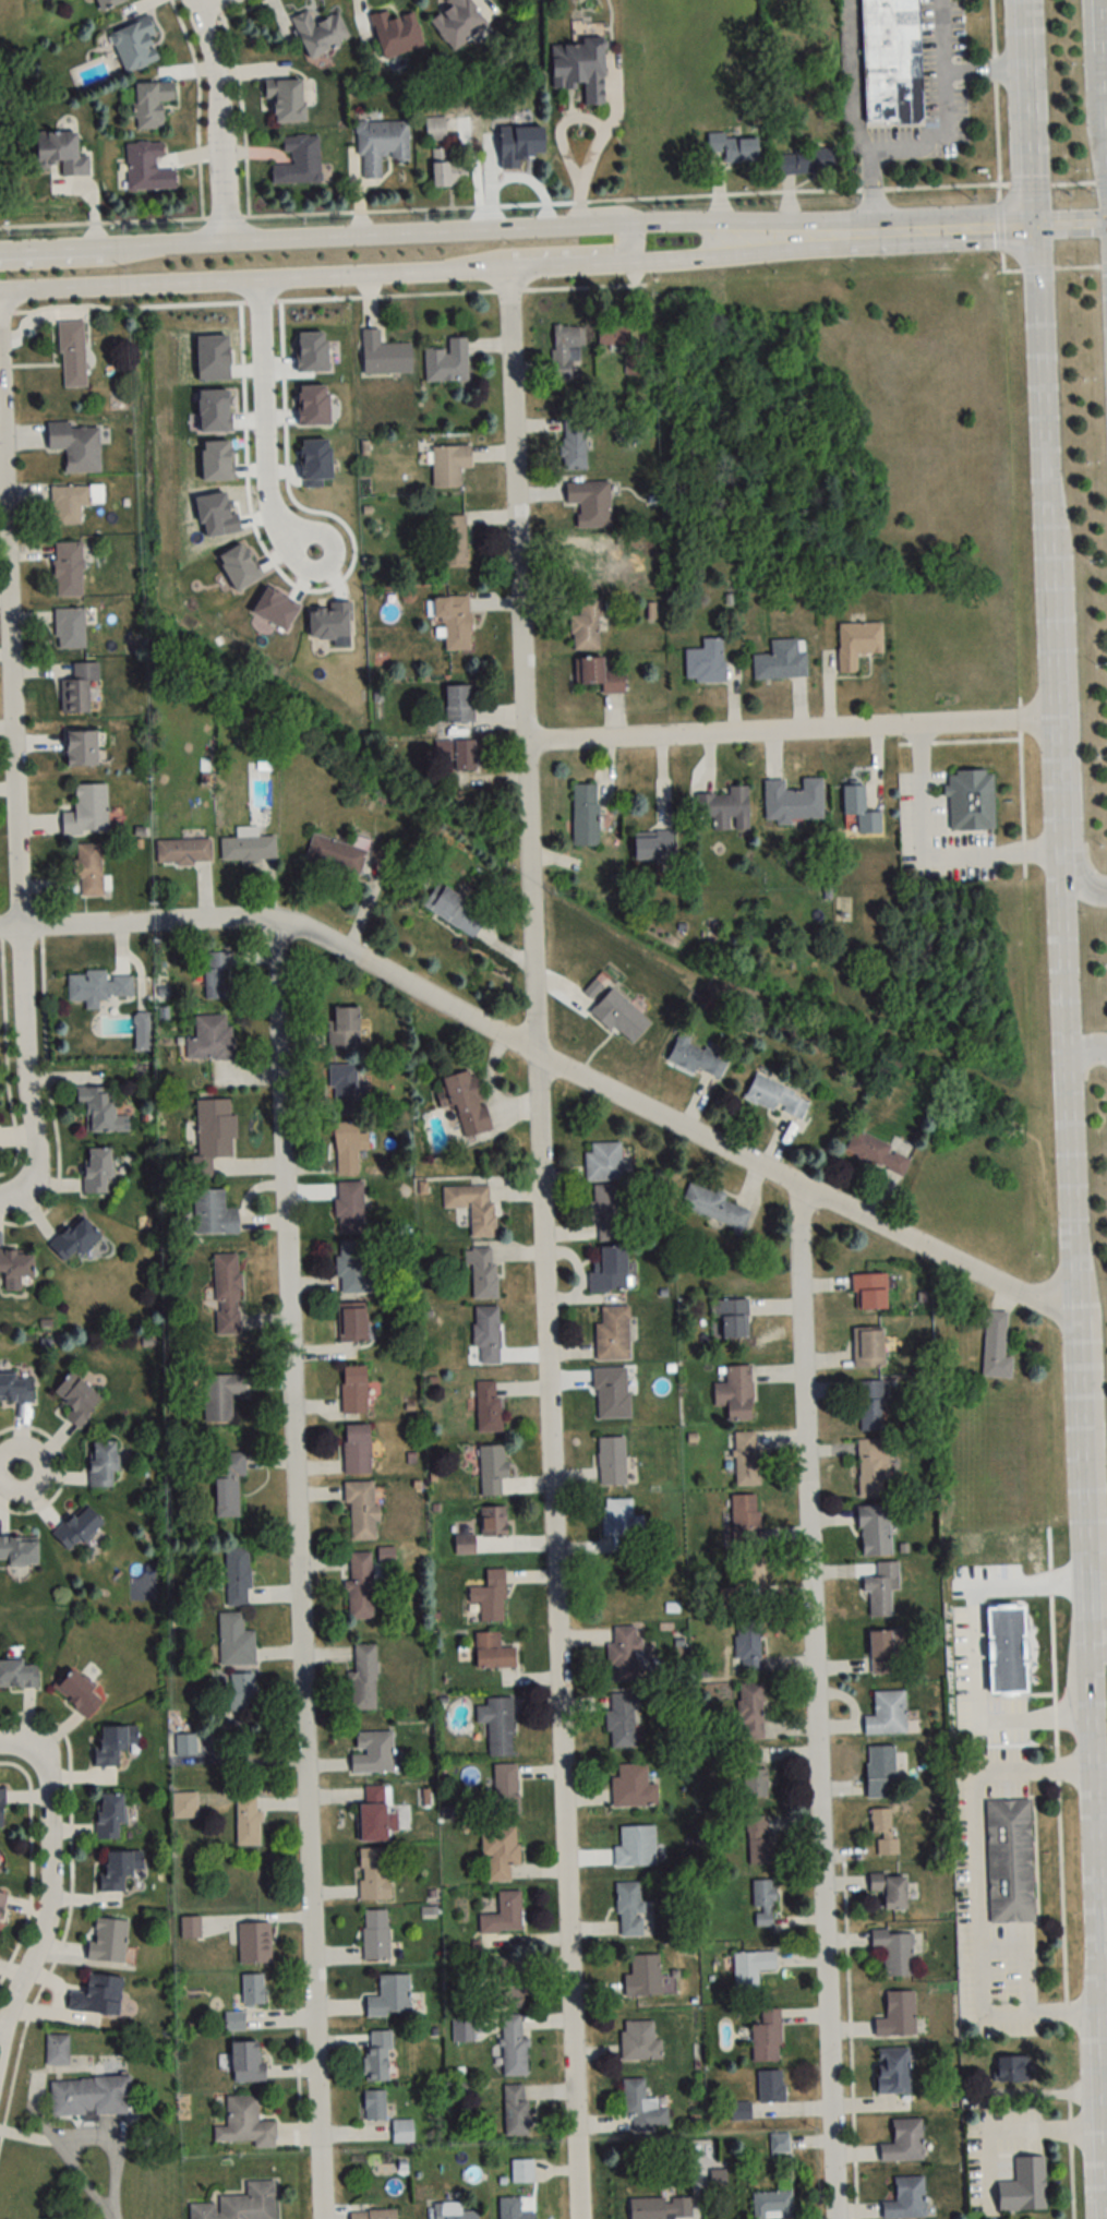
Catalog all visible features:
building: (106, 3)
road: (214, 7)
building: (457, 22)
building: (318, 33)
building: (396, 33)
road: (1105, 38)
building: (134, 45)
building: (580, 68)
road: (987, 68)
road: (853, 75)
road: (1087, 80)
building: (285, 99)
building: (902, 103)
building: (151, 104)
road: (946, 105)
road: (1031, 113)
road: (217, 118)
building: (435, 129)
road: (600, 129)
building: (381, 145)
building: (733, 147)
building: (60, 152)
building: (298, 160)
building: (804, 160)
building: (146, 167)
building: (446, 169)
road: (871, 191)
road: (592, 203)
road: (1071, 227)
traffic signals: (1036, 228)
road: (941, 230)
road: (737, 232)
road: (313, 235)
road: (571, 253)
road: (56, 259)
road: (678, 259)
road: (254, 279)
building: (612, 335)
building: (565, 352)
building: (71, 353)
building: (383, 355)
building: (446, 361)
road: (1040, 361)
building: (633, 364)
road: (264, 423)
building: (573, 441)
building: (75, 445)
building: (448, 465)
building: (72, 502)
building: (589, 502)
road: (517, 504)
building: (452, 541)
building: (583, 556)
building: (67, 568)
building: (453, 621)
building: (586, 624)
road: (11, 626)
building: (69, 627)
building: (856, 644)
building: (781, 660)
building: (705, 662)
building: (597, 673)
building: (76, 687)
road: (1073, 701)
building: (458, 703)
road: (798, 731)
building: (80, 747)
building: (441, 749)
building: (465, 755)
building: (793, 800)
building: (970, 800)
building: (724, 808)
building: (858, 809)
building: (86, 811)
building: (583, 815)
building: (246, 848)
building: (653, 848)
road: (931, 850)
building: (182, 851)
building: (334, 856)
building: (88, 868)
building: (455, 909)
road: (11, 932)
building: (215, 974)
building: (96, 986)
building: (611, 1009)
building: (344, 1029)
building: (141, 1031)
building: (210, 1037)
road: (1086, 1047)
building: (695, 1057)
road: (557, 1068)
road: (24, 1076)
building: (344, 1089)
building: (775, 1099)
building: (466, 1103)
building: (99, 1111)
building: (212, 1135)
building: (346, 1148)
building: (877, 1153)
building: (605, 1162)
building: (95, 1171)
building: (472, 1206)
building: (712, 1206)
building: (349, 1208)
building: (606, 1210)
building: (213, 1213)
building: (72, 1239)
building: (14, 1268)
building: (352, 1268)
building: (609, 1268)
building: (482, 1271)
road: (1073, 1276)
building: (868, 1292)
building: (226, 1294)
building: (732, 1319)
building: (351, 1322)
building: (485, 1333)
building: (612, 1334)
building: (995, 1346)
building: (867, 1347)
building: (15, 1388)
building: (352, 1390)
building: (611, 1393)
building: (735, 1393)
building: (219, 1396)
building: (76, 1399)
building: (488, 1406)
building: (869, 1406)
building: (356, 1450)
building: (746, 1460)
building: (611, 1461)
building: (101, 1465)
road: (11, 1468)
building: (873, 1468)
building: (492, 1470)
road: (550, 1479)
building: (227, 1483)
building: (360, 1511)
building: (618, 1519)
building: (493, 1523)
building: (76, 1530)
road: (1100, 1531)
building: (874, 1532)
building: (988, 1545)
building: (17, 1551)
building: (742, 1556)
road: (297, 1571)
building: (237, 1576)
building: (359, 1586)
building: (880, 1590)
building: (489, 1598)
building: (234, 1641)
building: (747, 1647)
road: (972, 1650)
building: (882, 1651)
building: (492, 1653)
building: (623, 1655)
building: (17, 1674)
building: (362, 1679)
building: (76, 1694)
building: (239, 1694)
road: (814, 1703)
building: (749, 1712)
building: (886, 1715)
building: (619, 1720)
building: (497, 1725)
building: (112, 1743)
building: (184, 1744)
building: (372, 1753)
building: (879, 1772)
building: (753, 1774)
building: (631, 1787)
building: (504, 1790)
building: (183, 1804)
building: (1, 1808)
building: (372, 1814)
building: (108, 1815)
road: (1100, 1815)
building: (246, 1822)
building: (883, 1832)
building: (757, 1839)
building: (635, 1847)
building: (498, 1852)
building: (1009, 1861)
building: (118, 1868)
building: (373, 1873)
road: (48, 1884)
building: (889, 1888)
road: (976, 1891)
building: (1, 1900)
building: (762, 1903)
building: (628, 1909)
building: (503, 1915)
building: (189, 1927)
building: (375, 1934)
building: (107, 1940)
building: (254, 1942)
building: (894, 1951)
building: (749, 1967)
building: (642, 1976)
building: (252, 1989)
building: (96, 1994)
building: (389, 1995)
building: (507, 1995)
building: (897, 2015)
building: (766, 2037)
building: (639, 2041)
building: (513, 2047)
building: (56, 2050)
building: (376, 2054)
building: (245, 2061)
building: (1011, 2070)
building: (892, 2071)
building: (769, 2086)
building: (88, 2096)
building: (373, 2104)
building: (641, 2108)
building: (515, 2110)
road: (1105, 2114)
building: (243, 2123)
road: (1014, 2128)
building: (401, 2131)
building: (903, 2142)
building: (779, 2144)
road: (112, 2150)
road: (68, 2157)
building: (521, 2171)
building: (1024, 2185)
building: (905, 2198)
building: (773, 2203)
building: (239, 2204)
building: (660, 2208)
building: (512, 2209)
building: (452, 2211)
building: (372, 2215)

